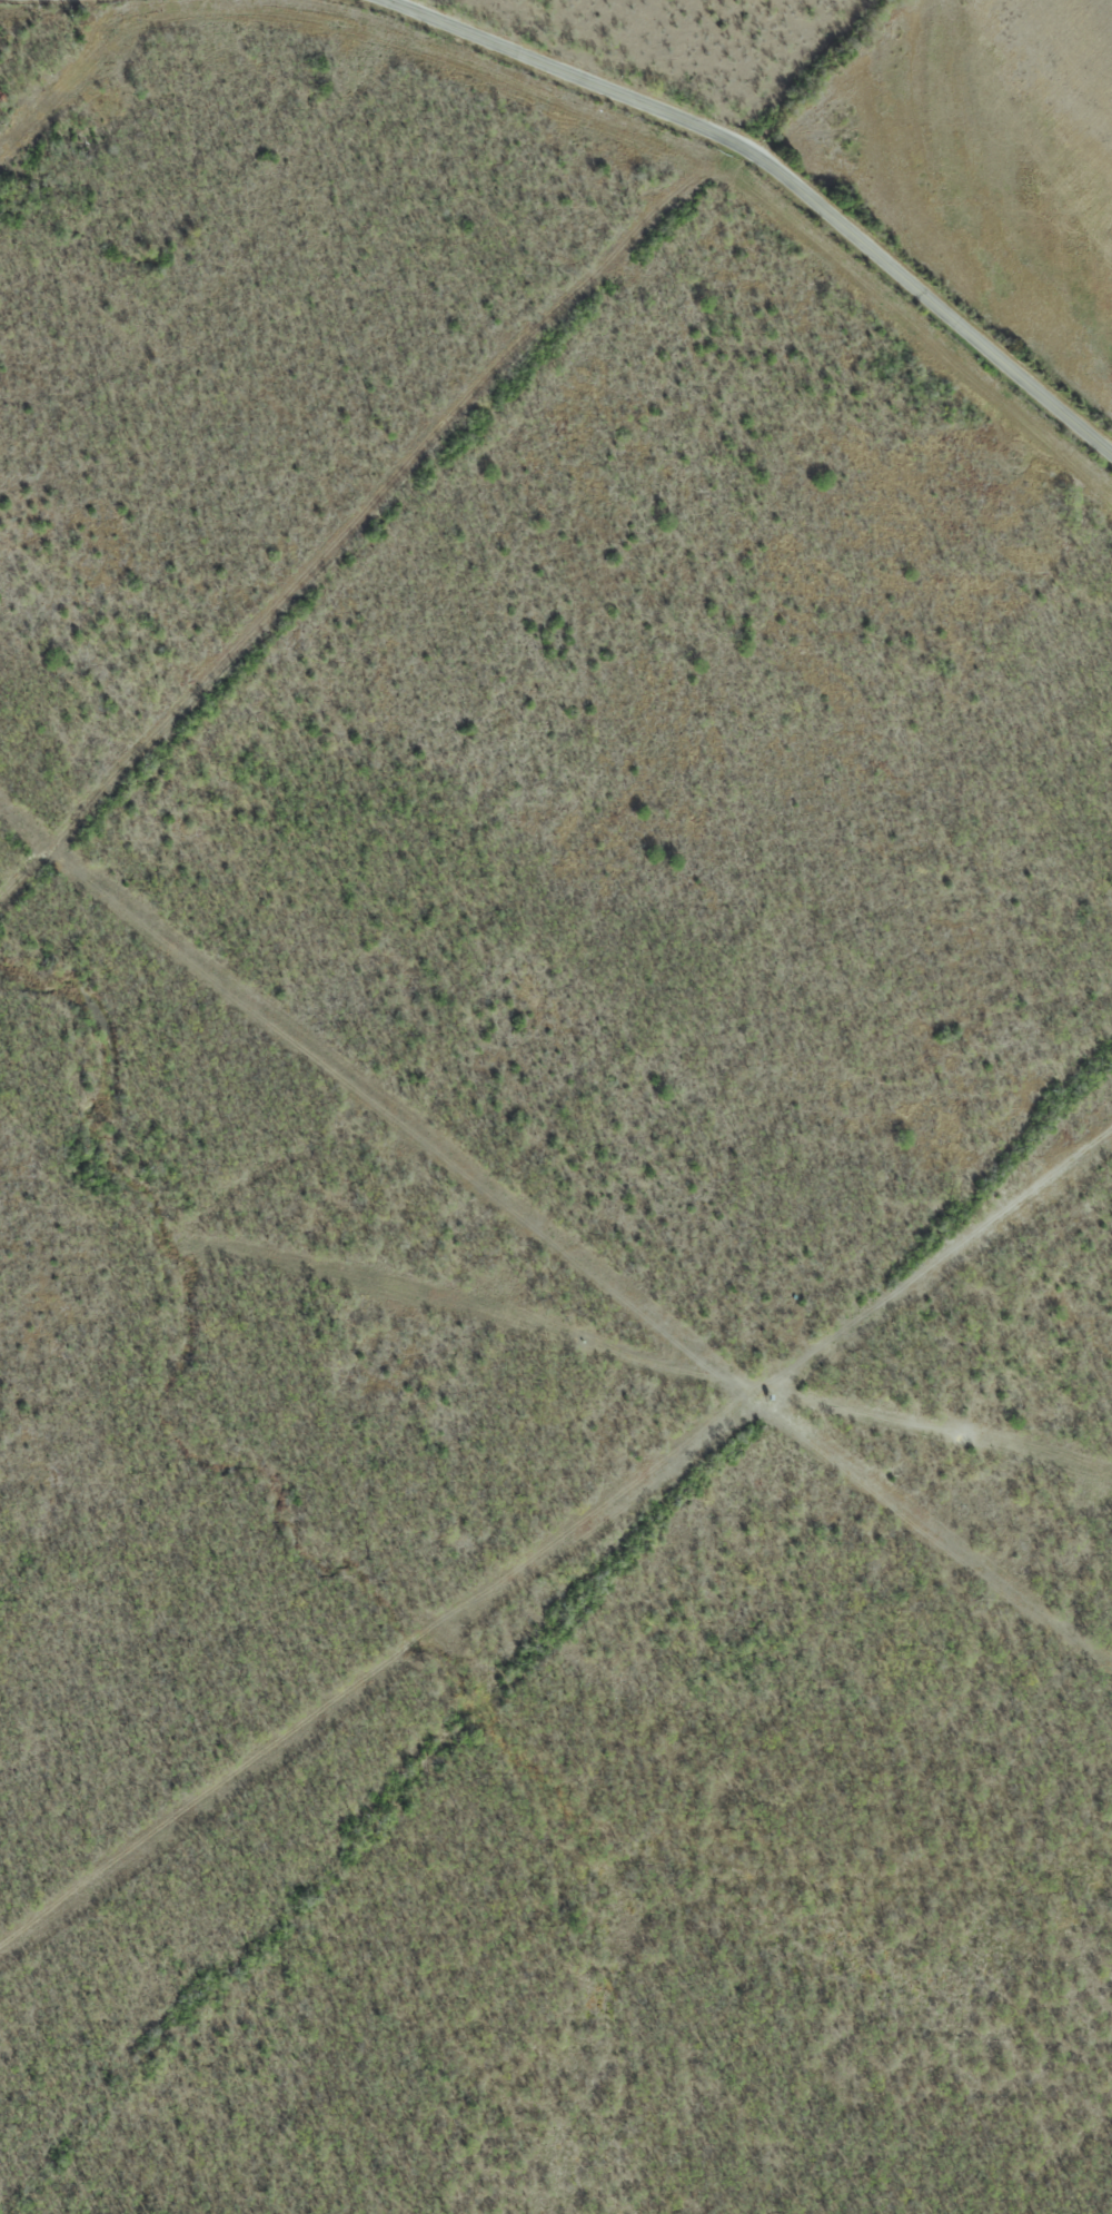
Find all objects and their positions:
road: (782, 175)

